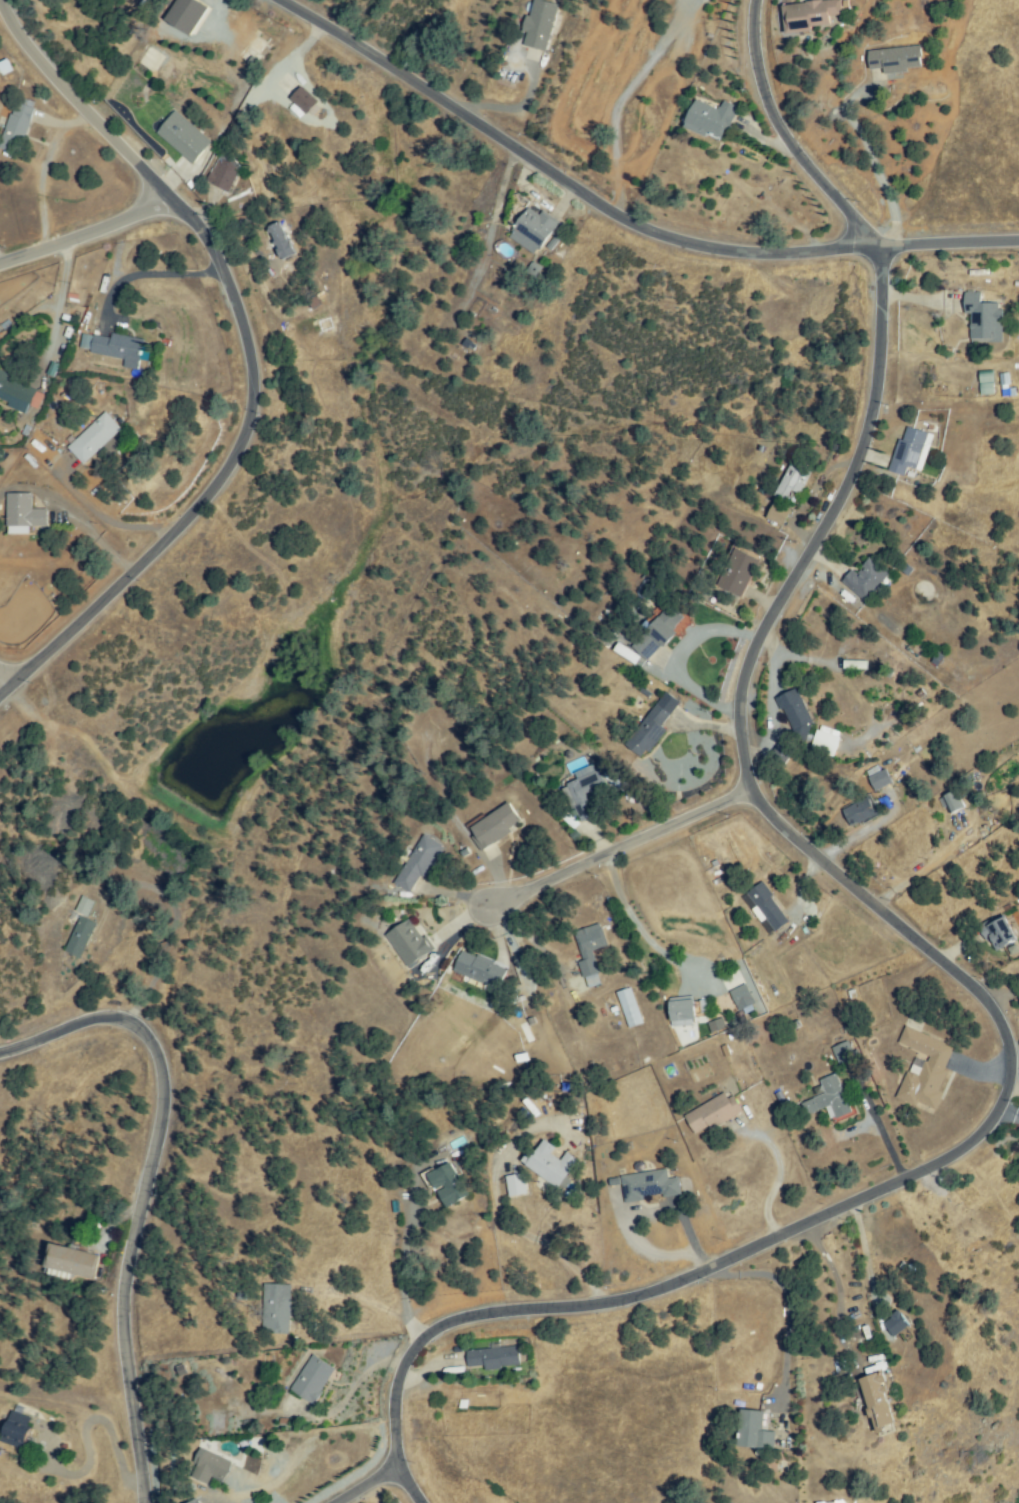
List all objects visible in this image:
building: (811, 14)
building: (183, 15)
building: (540, 24)
building: (257, 44)
building: (896, 60)
road: (623, 94)
building: (306, 101)
road: (510, 108)
building: (711, 119)
building: (18, 127)
building: (185, 137)
road: (786, 137)
road: (873, 164)
road: (43, 168)
building: (226, 175)
road: (621, 216)
building: (533, 231)
road: (86, 233)
building: (282, 241)
road: (145, 271)
road: (53, 305)
building: (984, 319)
building: (116, 347)
road: (250, 355)
building: (1003, 380)
building: (988, 382)
building: (16, 393)
building: (94, 438)
building: (908, 451)
building: (793, 479)
road: (74, 512)
building: (779, 514)
building: (26, 516)
road: (110, 517)
building: (739, 571)
building: (868, 579)
building: (658, 633)
building: (624, 653)
road: (681, 657)
road: (6, 679)
building: (797, 714)
building: (654, 725)
building: (825, 742)
building: (784, 751)
building: (881, 780)
building: (584, 793)
building: (953, 802)
building: (860, 812)
building: (495, 826)
road: (626, 846)
building: (418, 863)
building: (85, 907)
building: (768, 907)
road: (634, 922)
building: (1000, 932)
building: (81, 938)
building: (409, 943)
building: (591, 953)
building: (481, 970)
road: (996, 991)
building: (743, 995)
building: (630, 1007)
building: (686, 1010)
building: (524, 1011)
road: (994, 1015)
building: (845, 1052)
building: (926, 1070)
building: (831, 1099)
building: (713, 1114)
building: (550, 1165)
road: (779, 1176)
building: (447, 1183)
building: (516, 1185)
building: (650, 1186)
road: (147, 1189)
road: (644, 1212)
building: (72, 1262)
road: (835, 1273)
road: (406, 1274)
road: (367, 1300)
road: (789, 1301)
building: (277, 1310)
building: (895, 1325)
building: (493, 1358)
building: (313, 1380)
road: (351, 1388)
building: (880, 1405)
building: (18, 1431)
building: (754, 1432)
building: (212, 1467)
road: (370, 1484)
building: (194, 1502)

